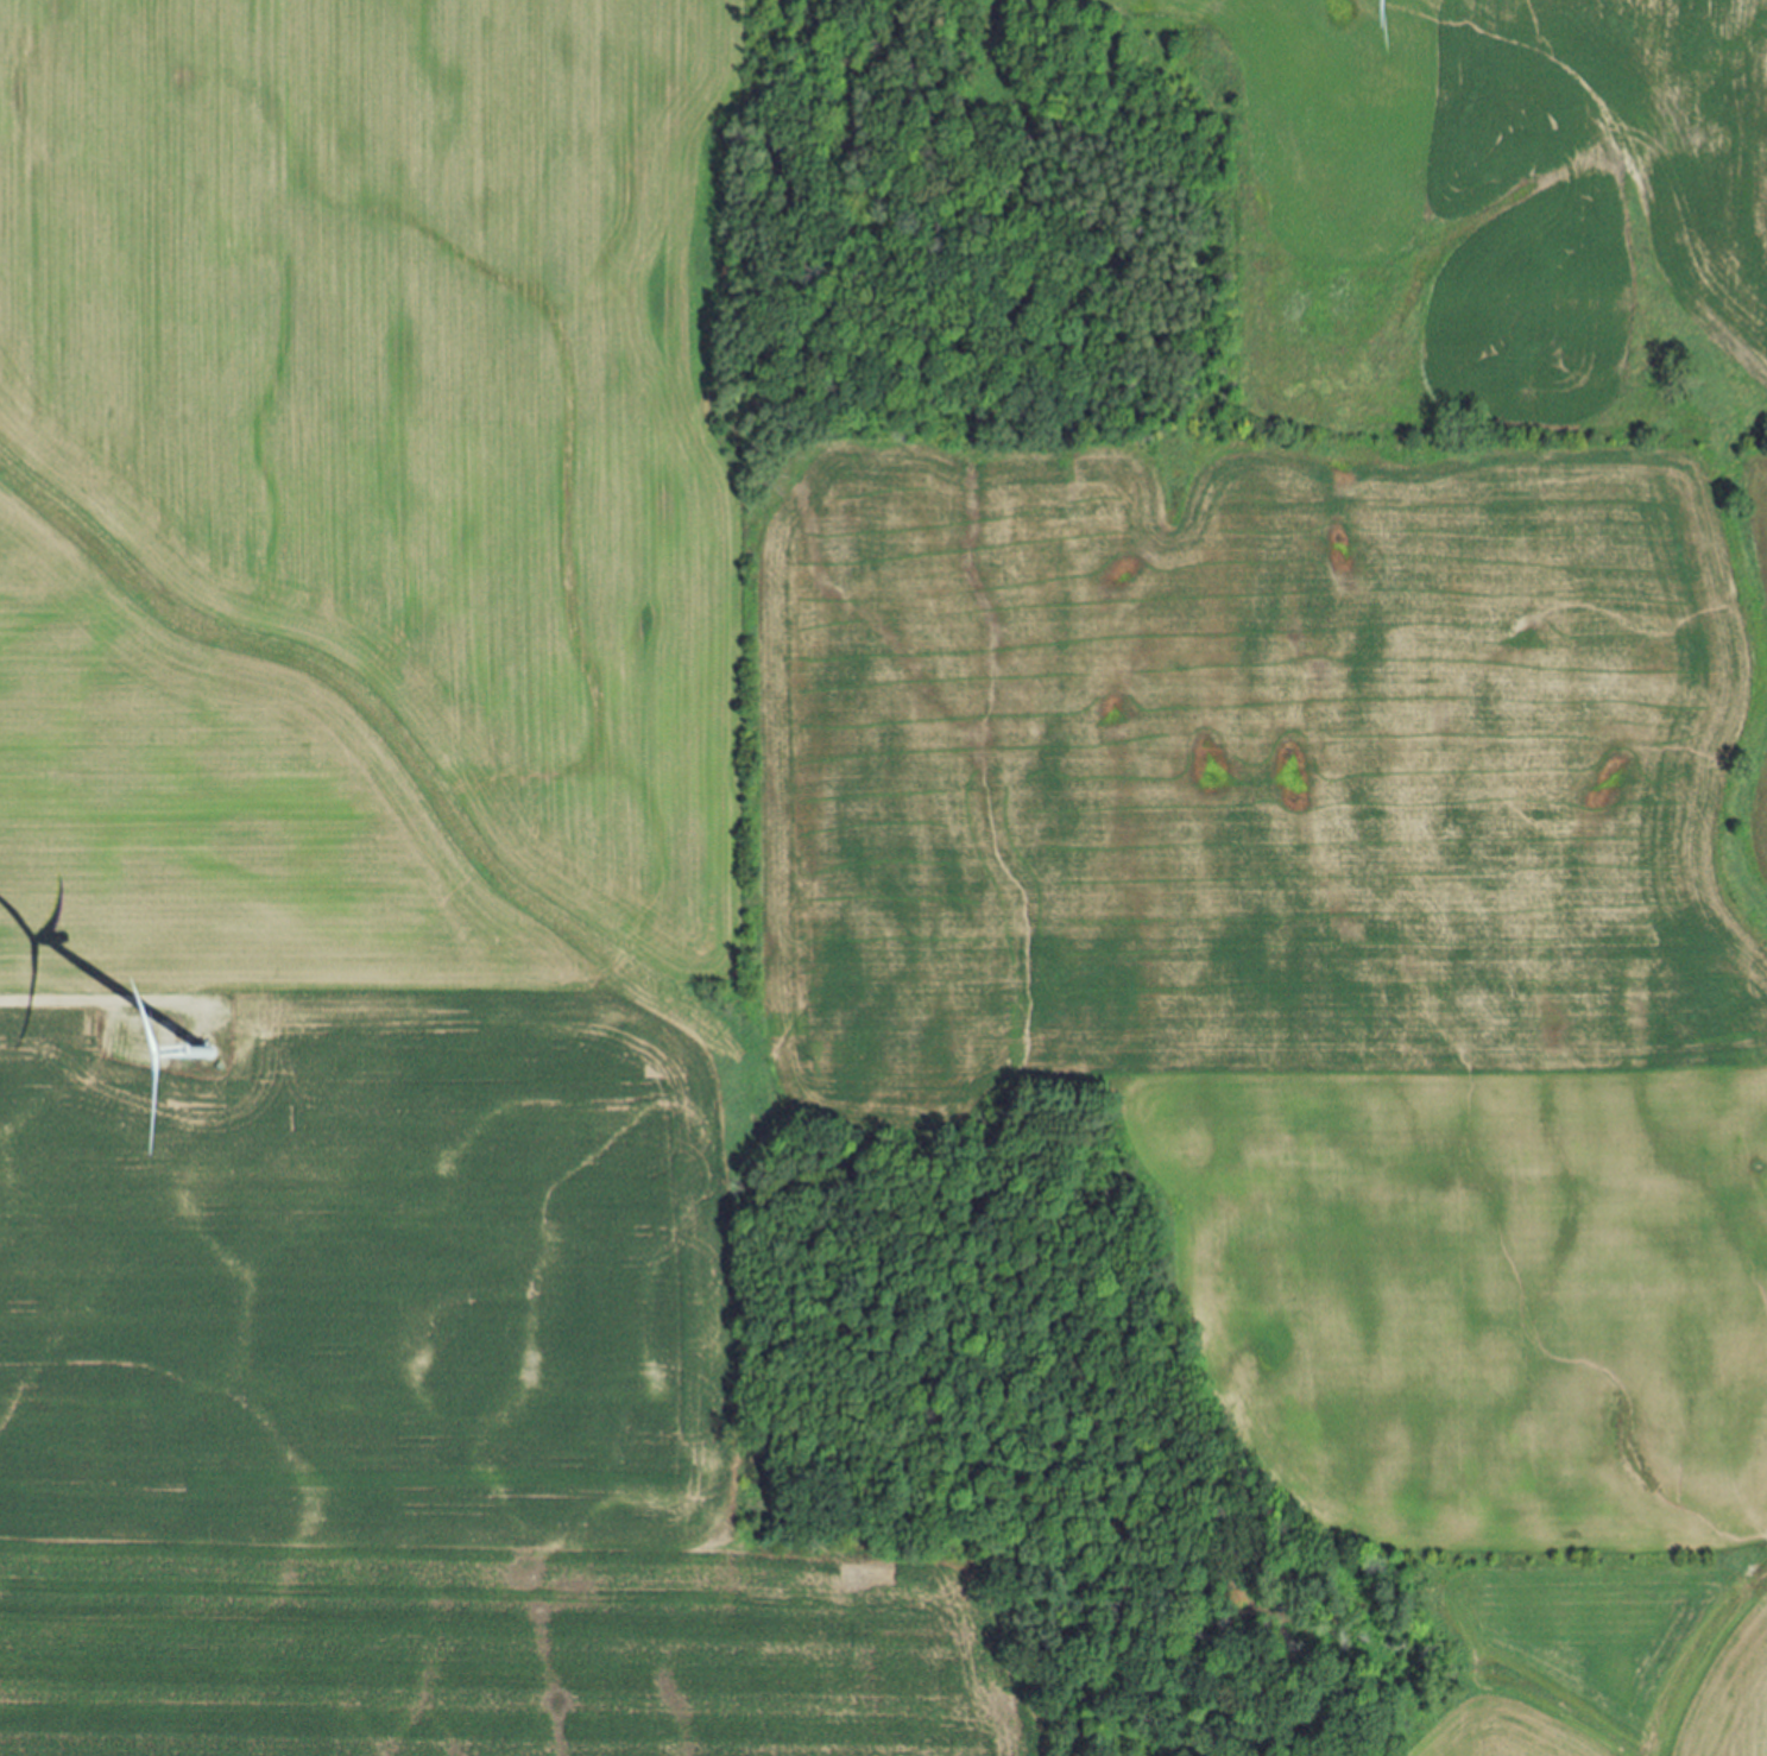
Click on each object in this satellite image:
road: (103, 1003)
wind turbine: (202, 1050)

